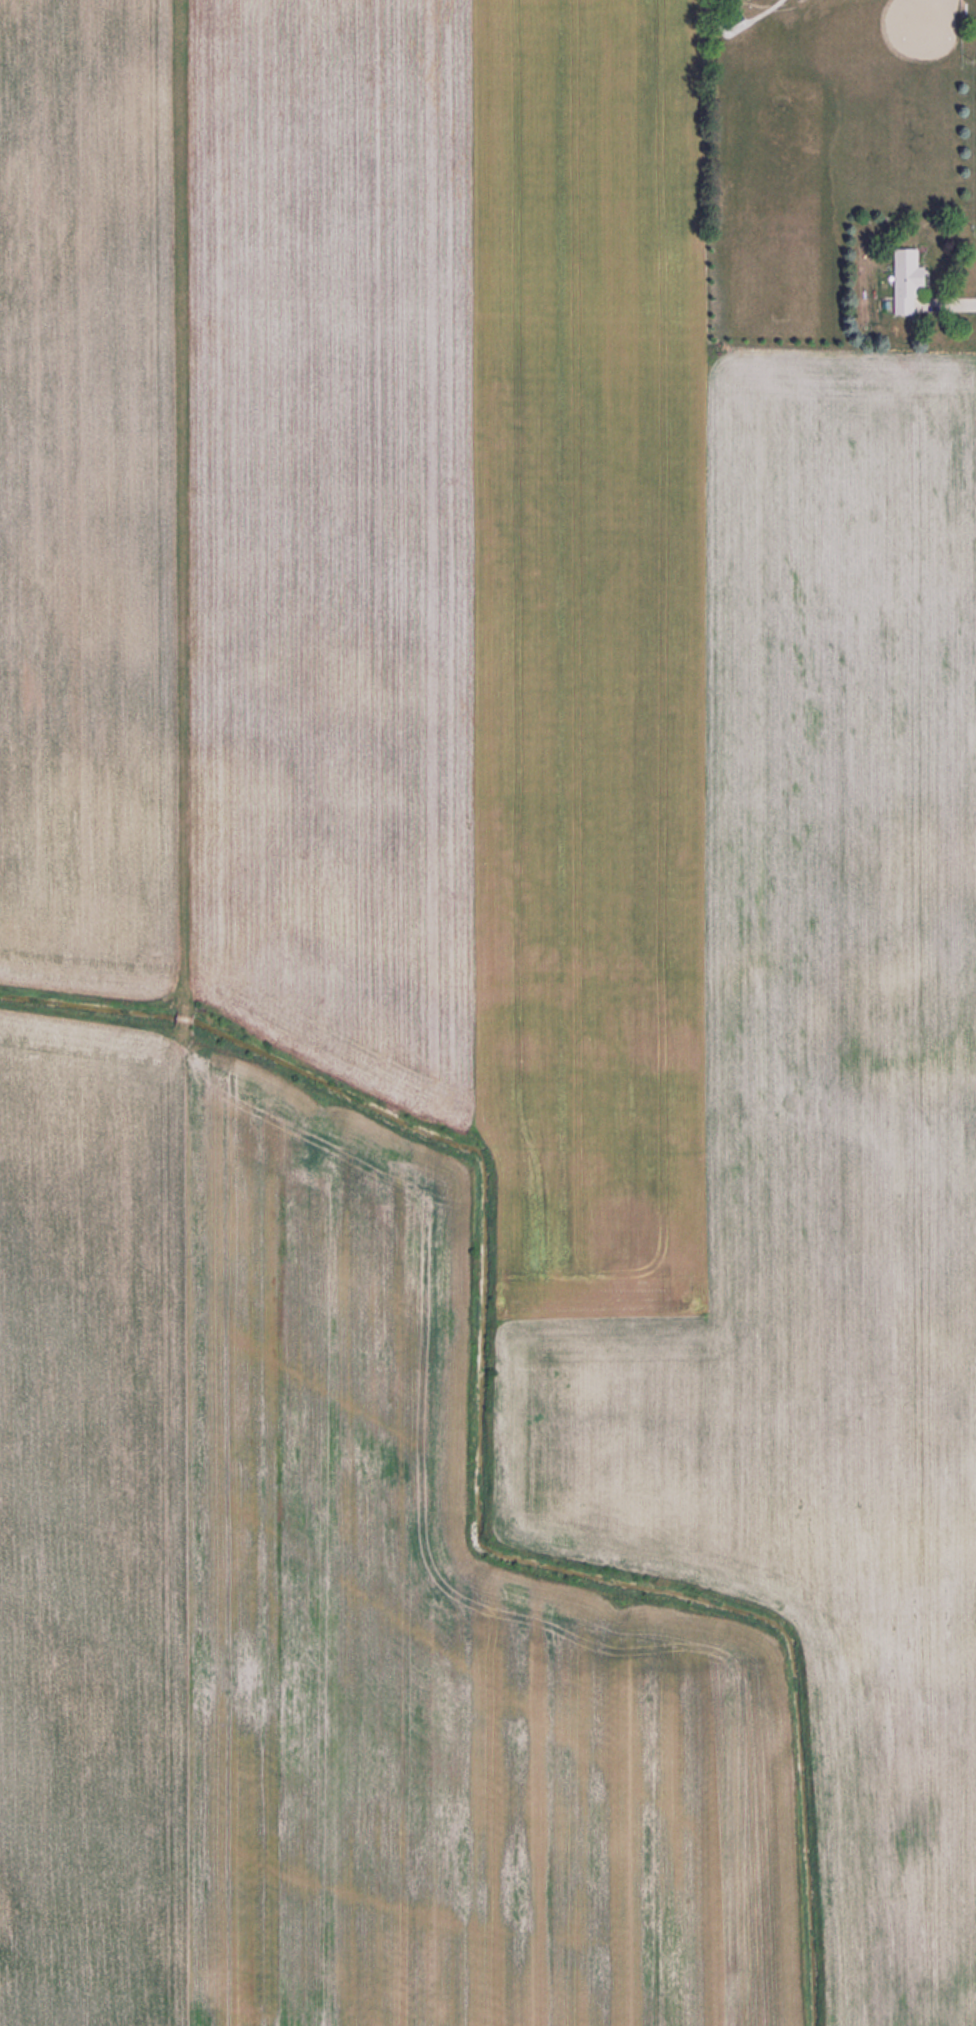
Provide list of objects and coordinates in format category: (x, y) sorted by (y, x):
building: (910, 279)

